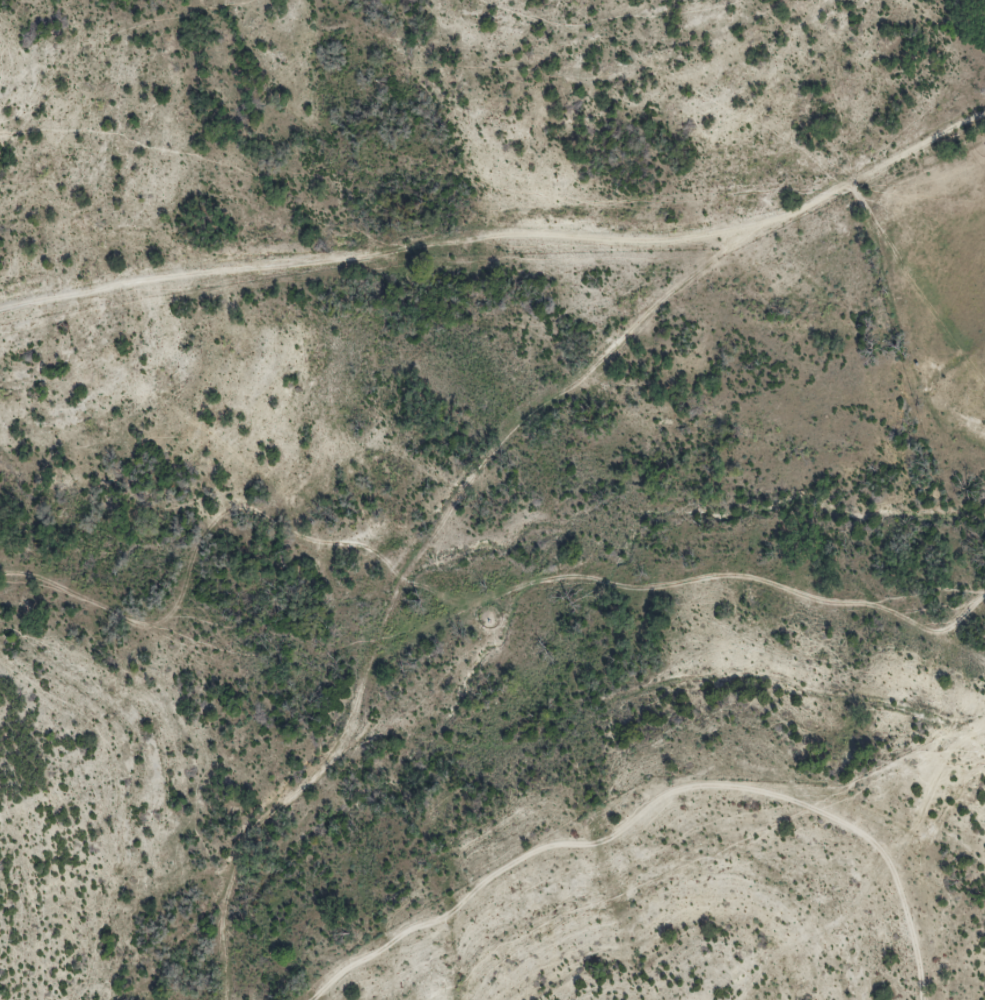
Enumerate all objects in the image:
road: (502, 243)
road: (348, 573)
road: (622, 796)

